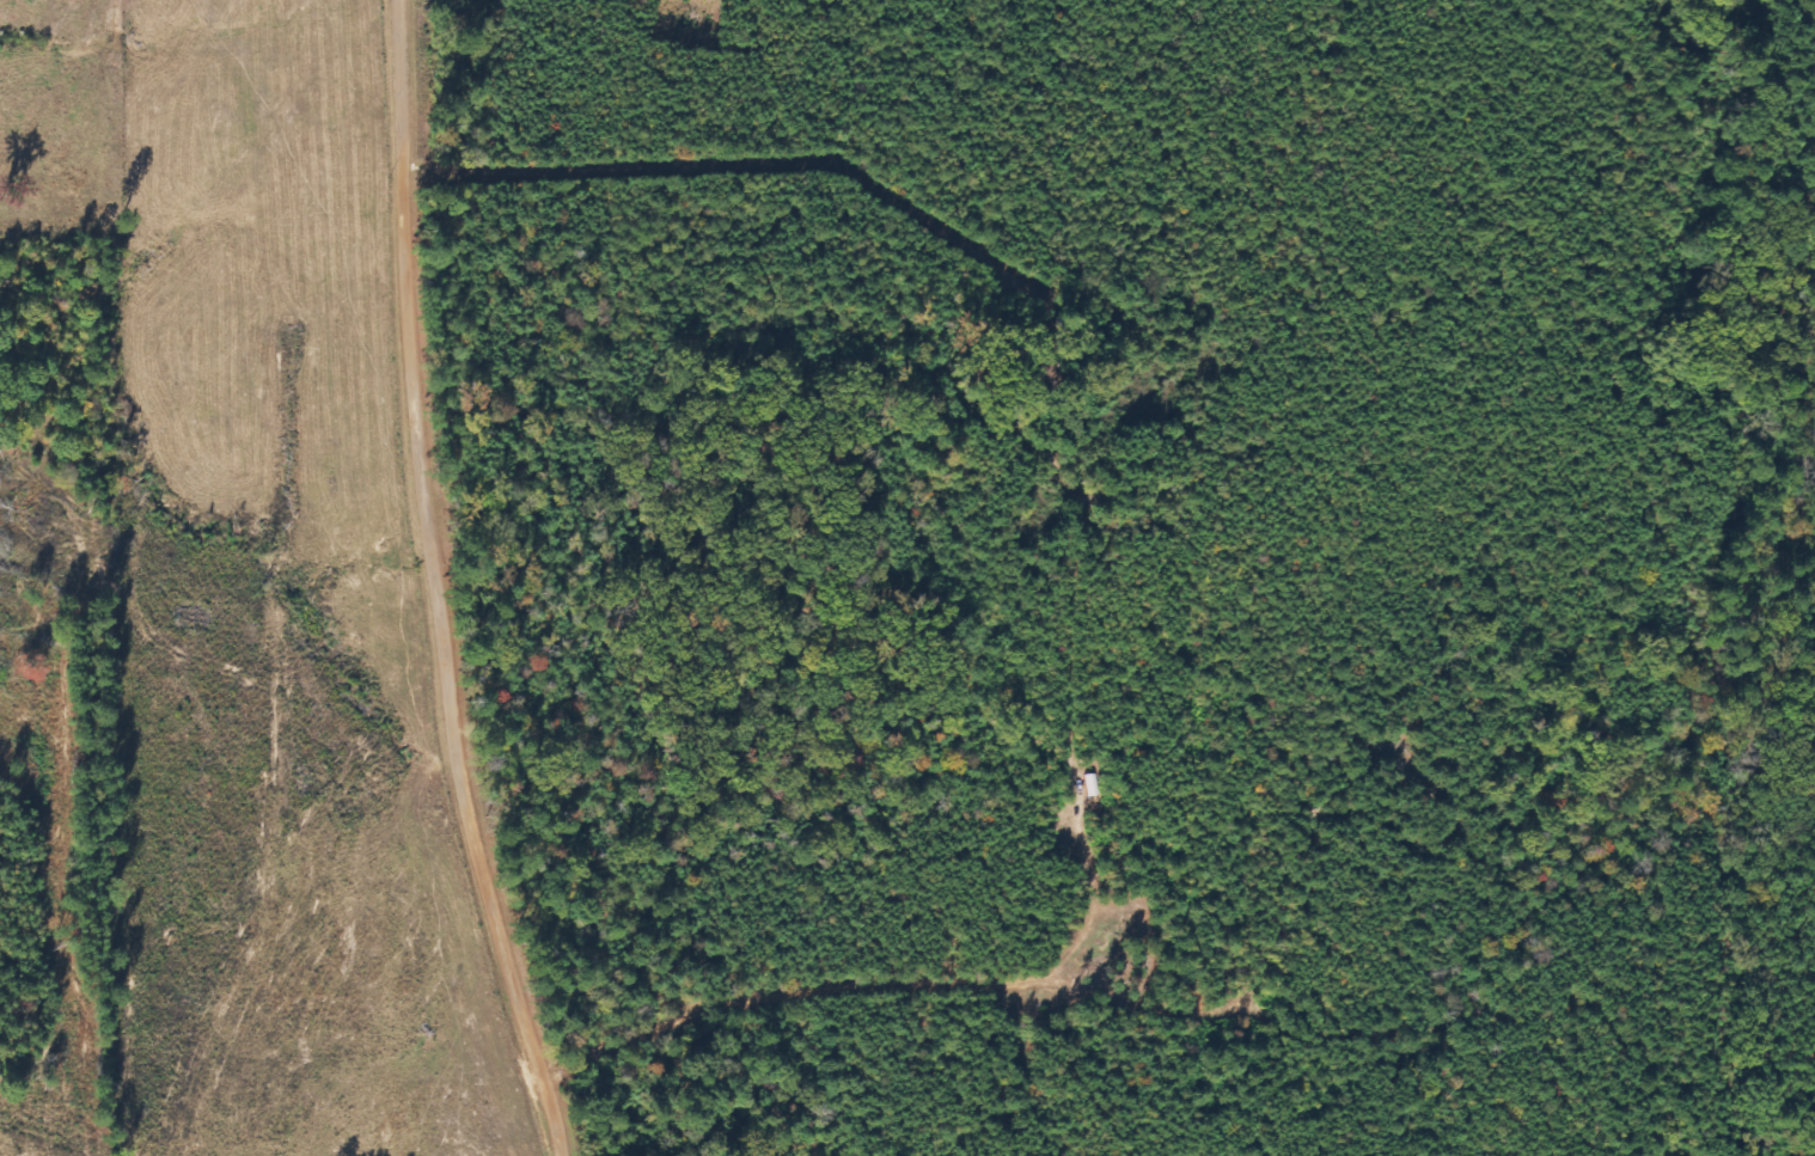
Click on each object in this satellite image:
road: (447, 583)
road: (94, 834)

